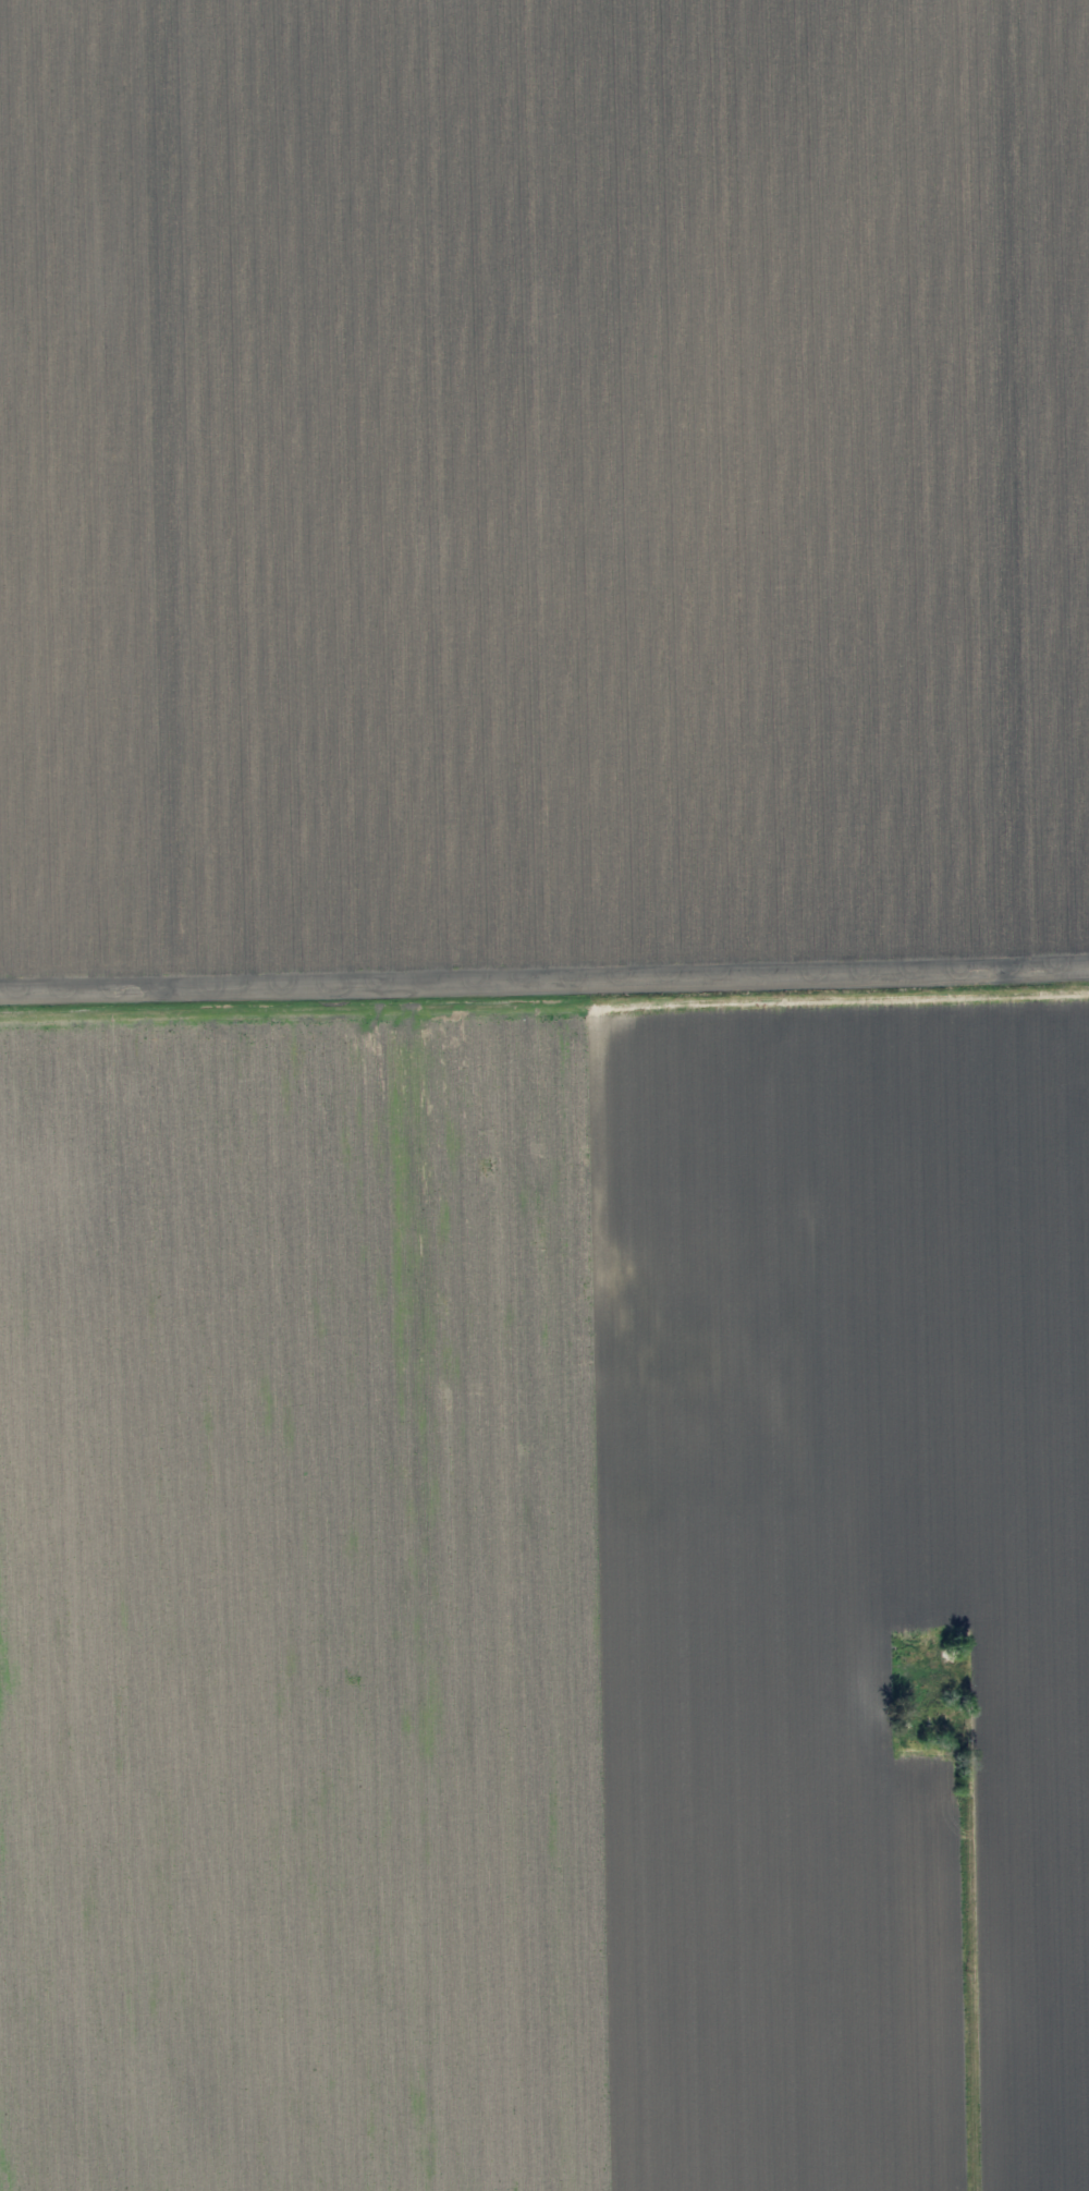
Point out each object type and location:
building: (934, 1720)
road: (988, 1939)

